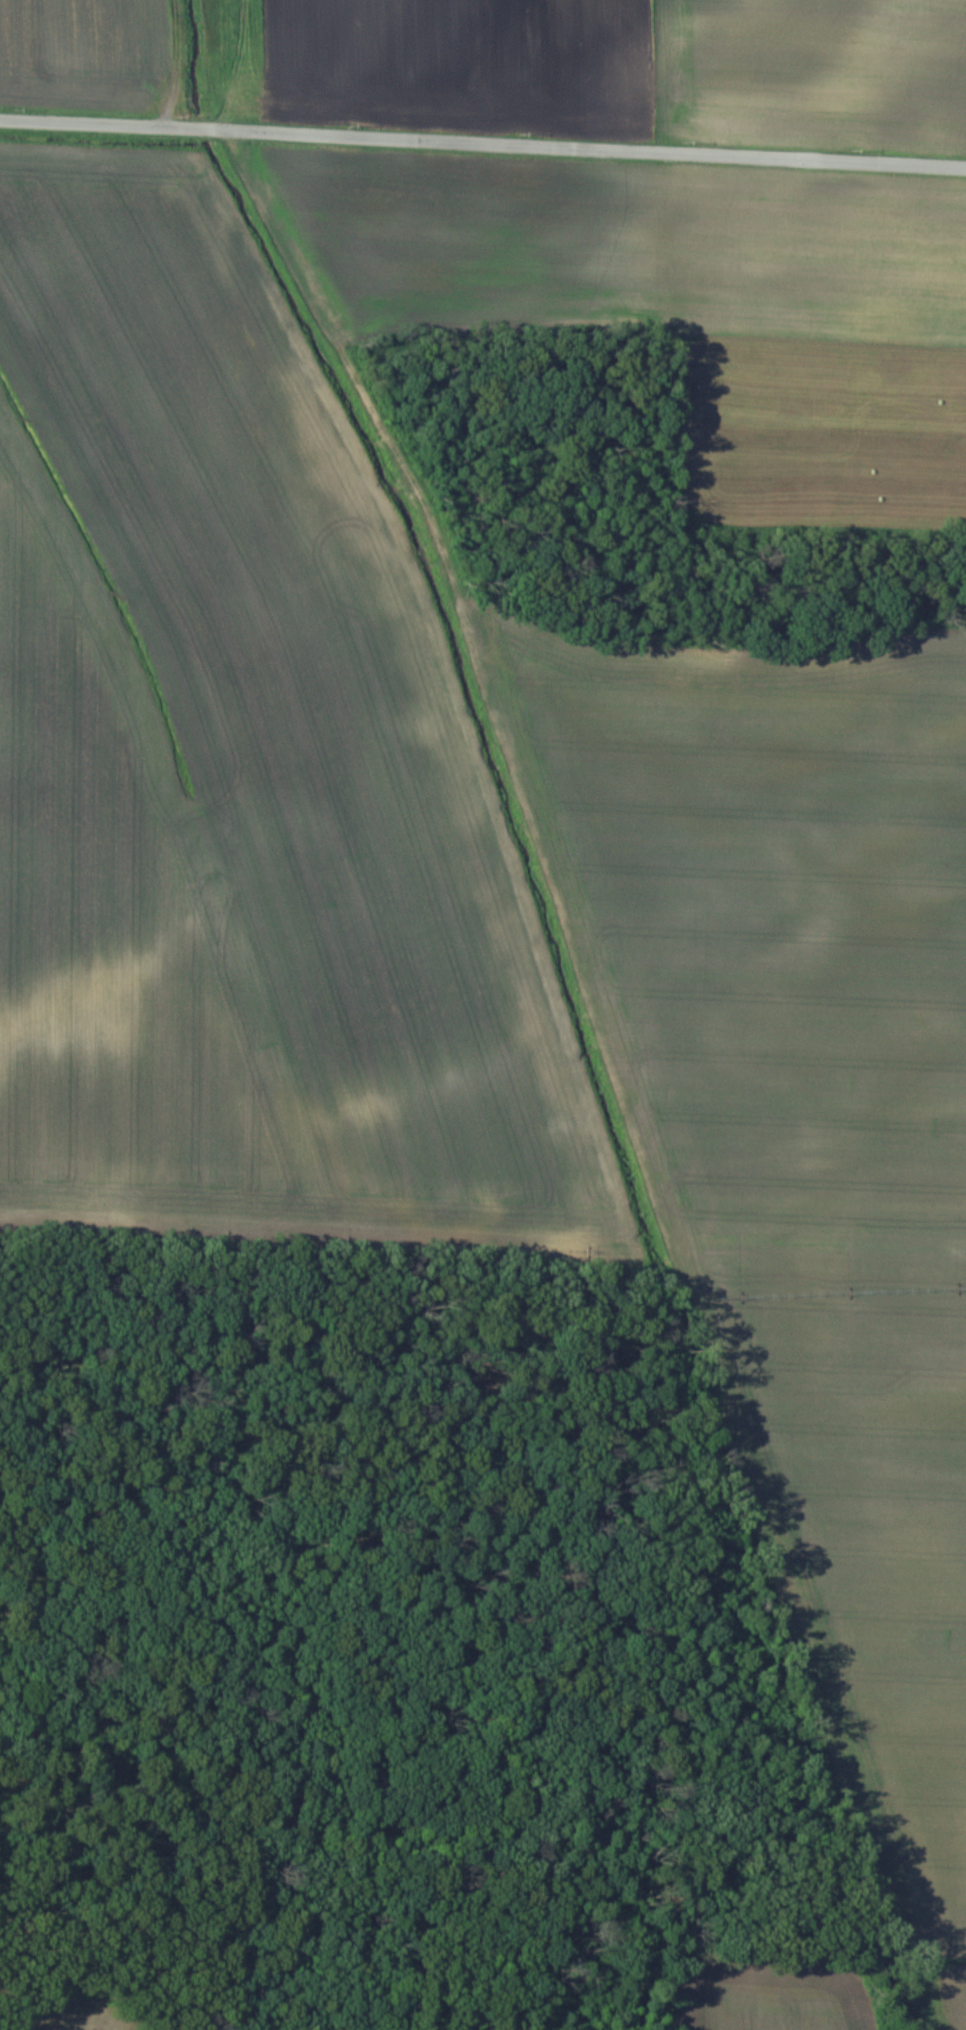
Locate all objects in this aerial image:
road: (483, 138)

